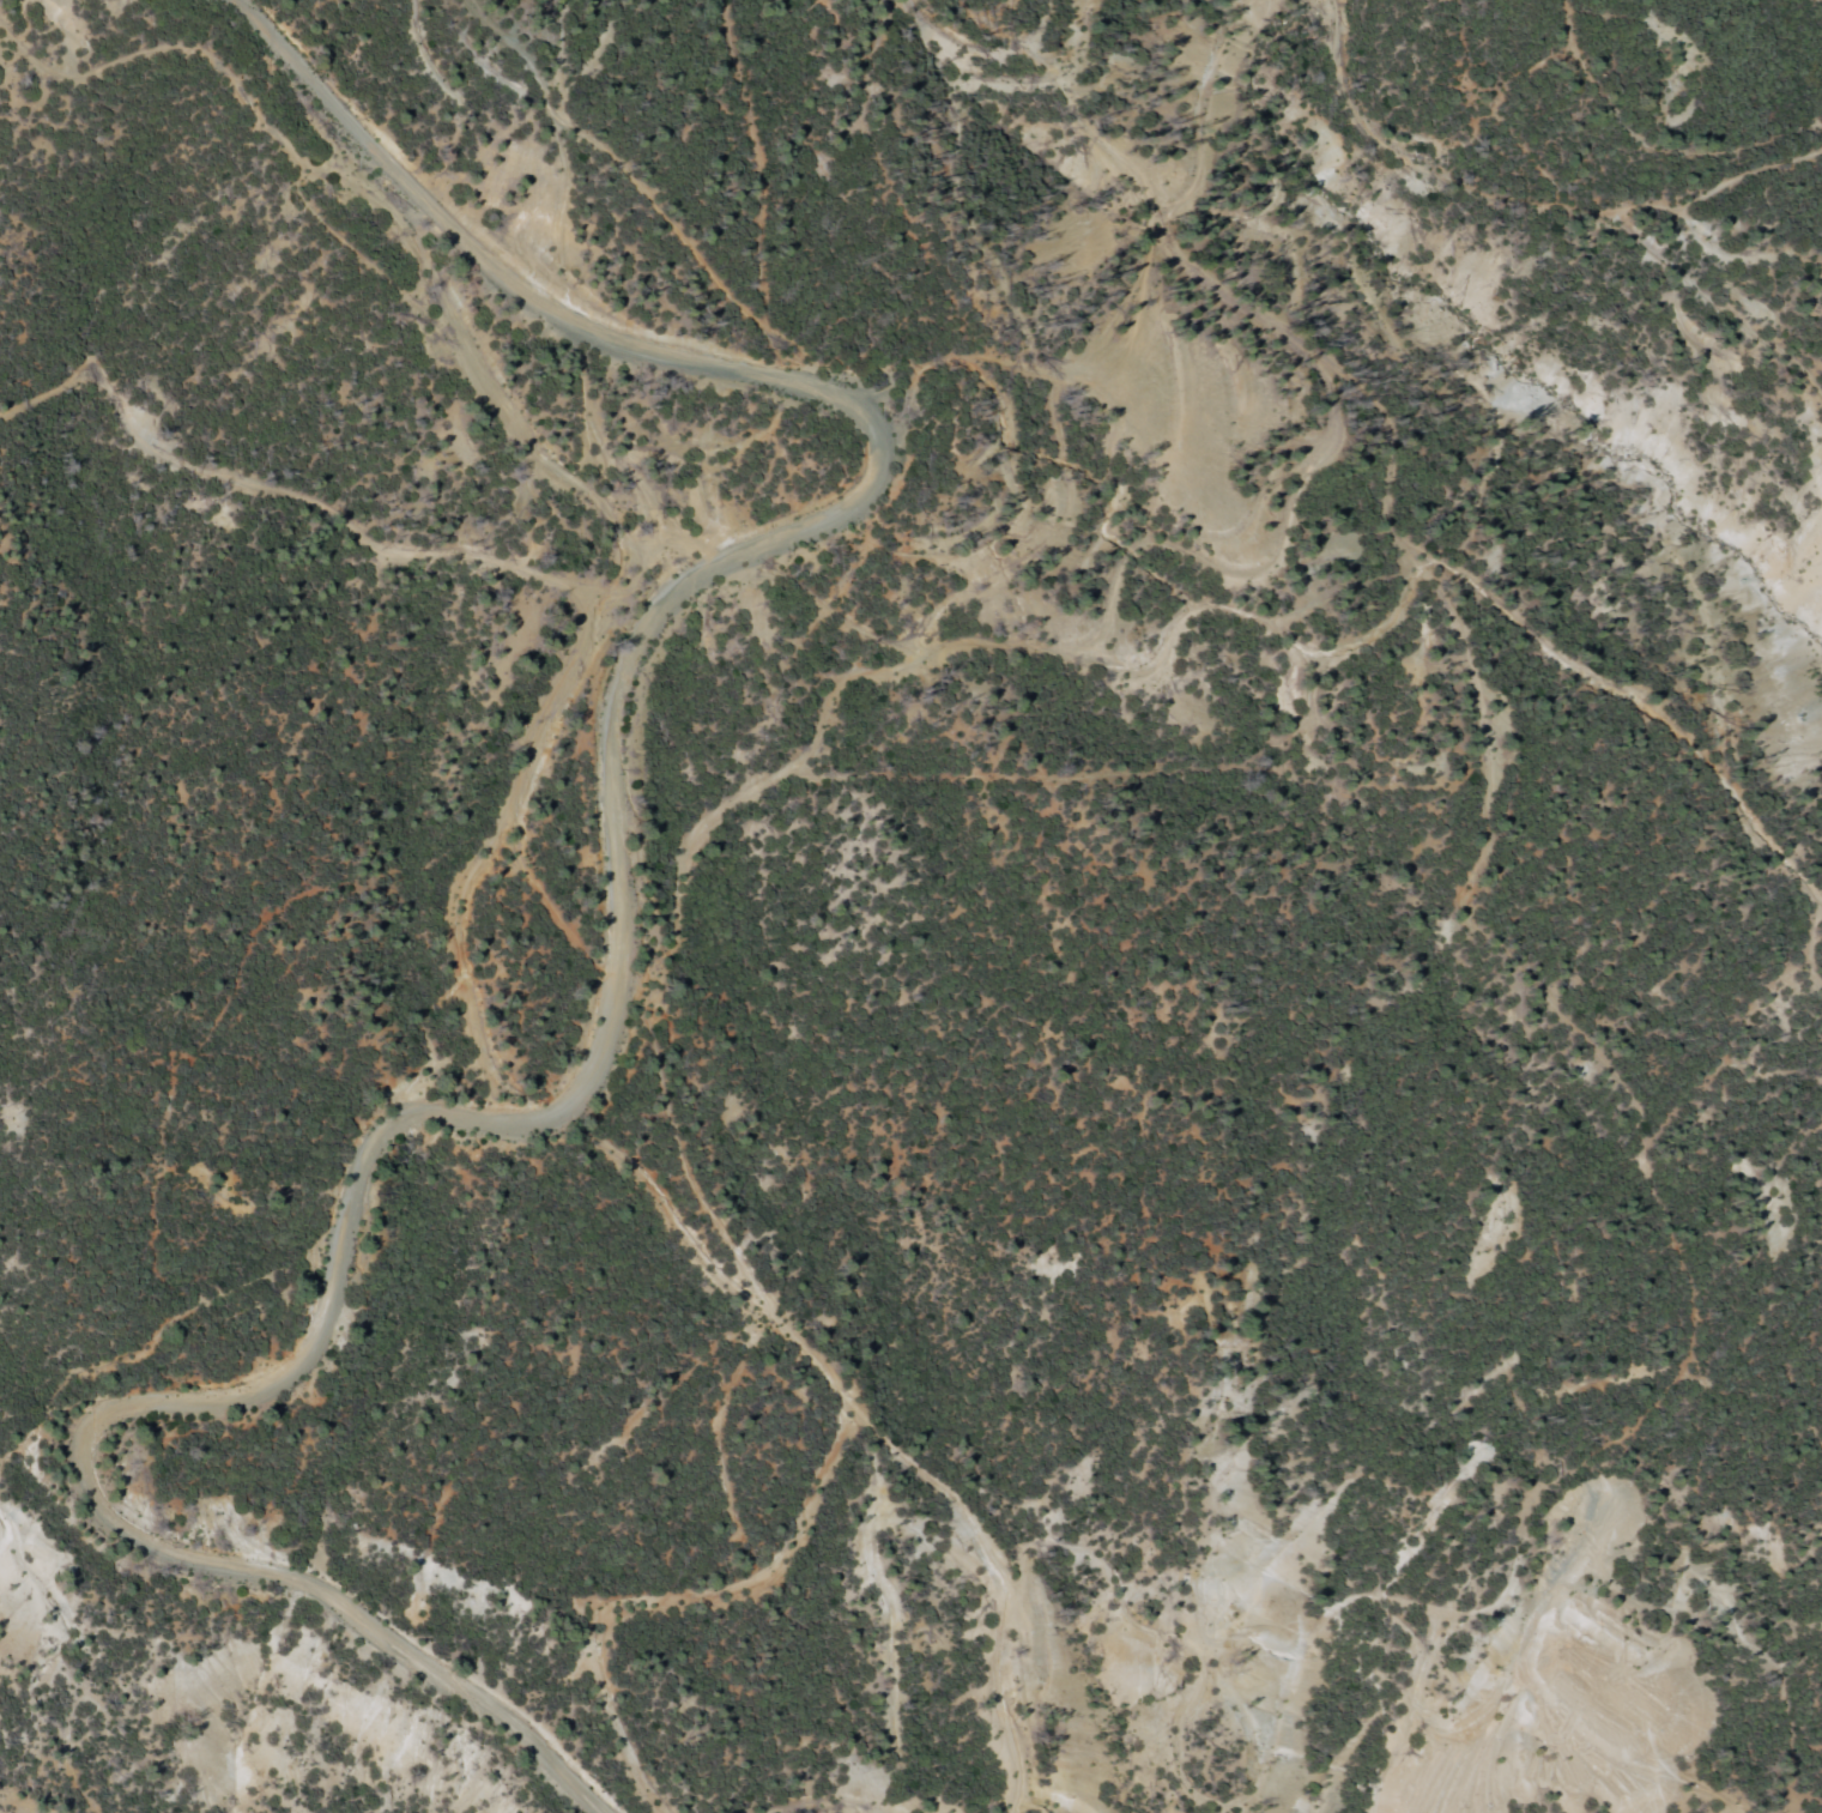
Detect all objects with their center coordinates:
quarry: (65, 267)
road: (622, 927)

